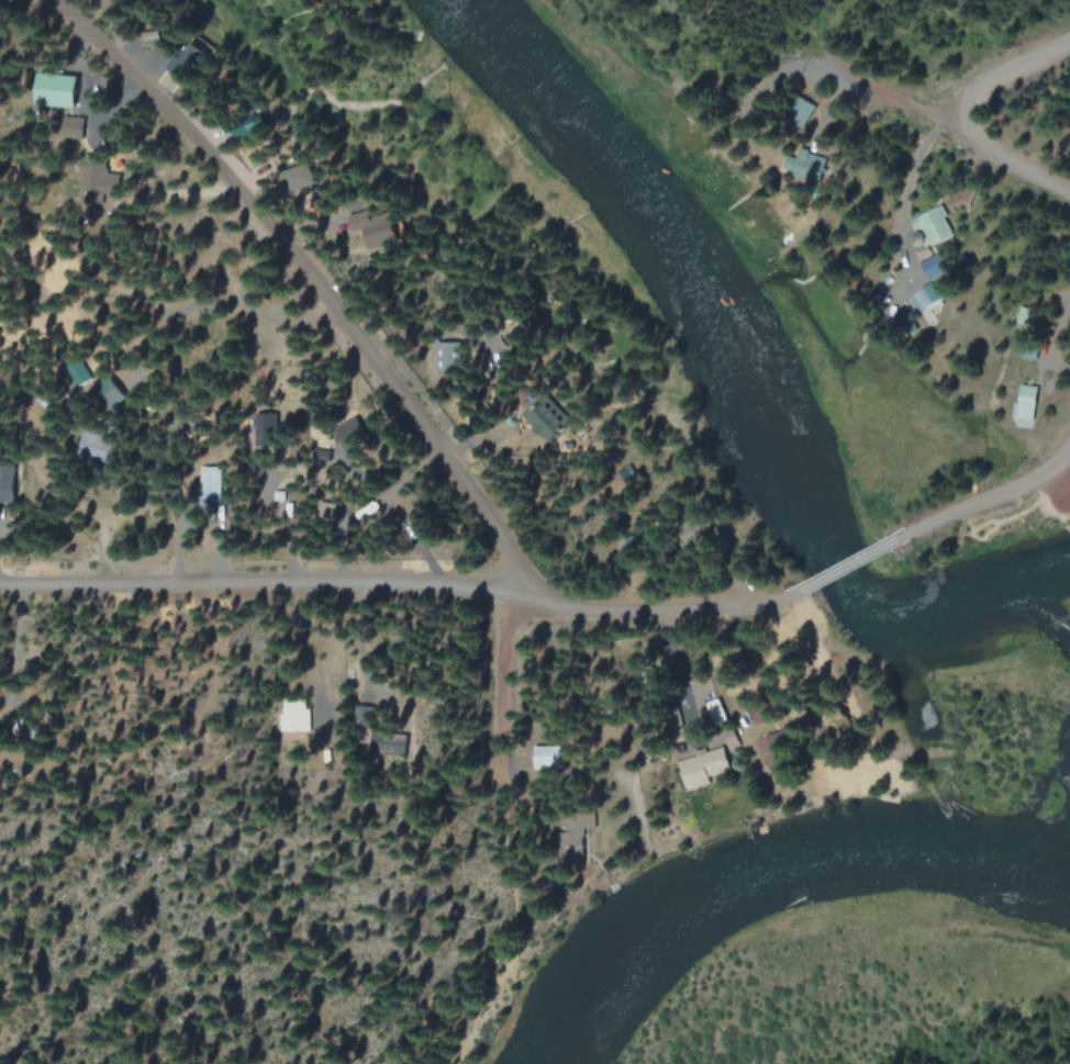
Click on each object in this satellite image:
building: (151, 35)
road: (1006, 72)
building: (57, 89)
building: (802, 108)
road: (950, 117)
building: (73, 126)
building: (809, 165)
building: (302, 176)
building: (93, 177)
building: (932, 224)
road: (314, 269)
building: (924, 296)
river: (747, 379)
building: (1026, 402)
building: (549, 419)
building: (8, 482)
building: (210, 484)
road: (982, 502)
road: (849, 568)
road: (406, 584)
road: (515, 692)
building: (756, 713)
building: (294, 715)
building: (768, 749)
building: (547, 757)
building: (702, 766)
building: (576, 832)
river: (765, 870)
road: (484, 937)

